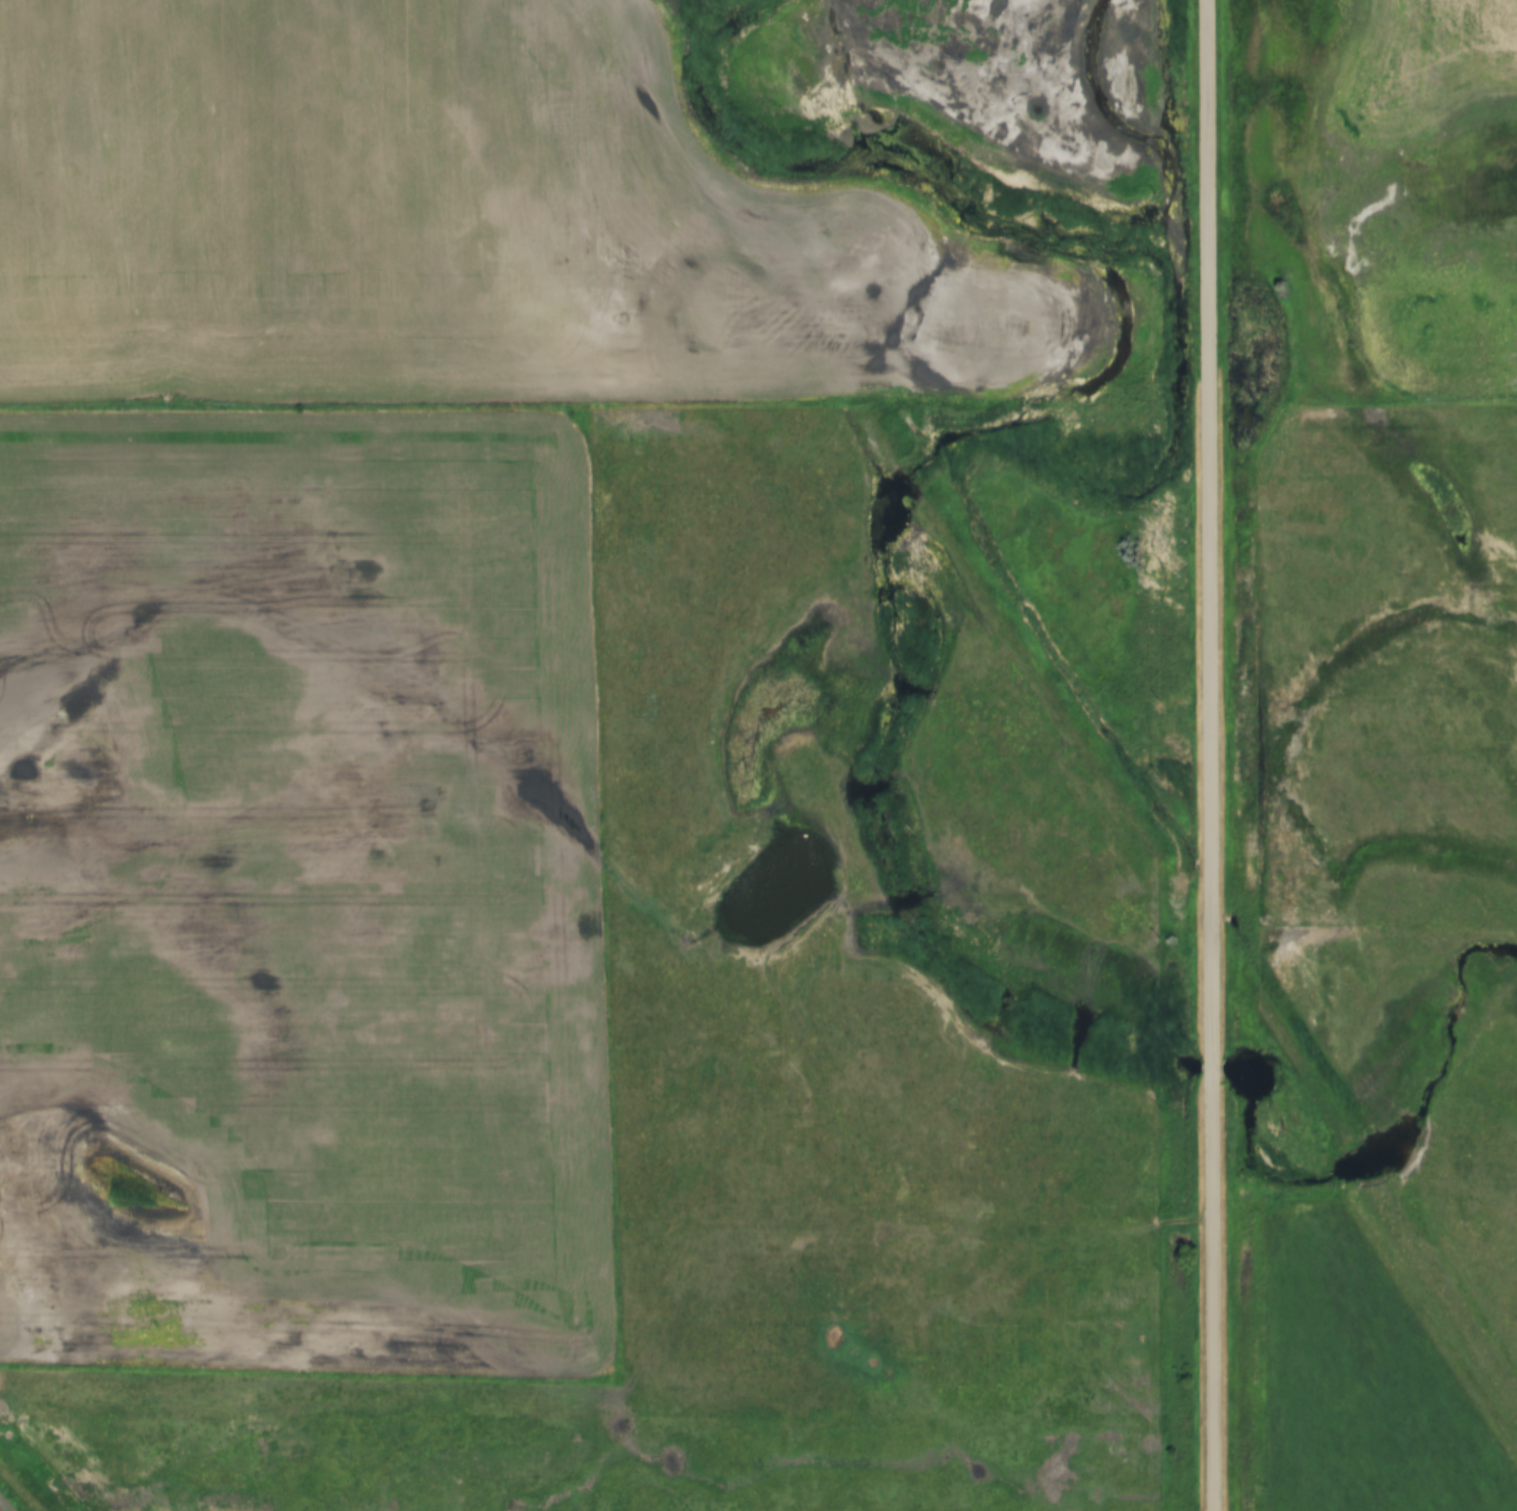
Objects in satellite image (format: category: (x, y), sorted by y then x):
road: (1208, 755)

